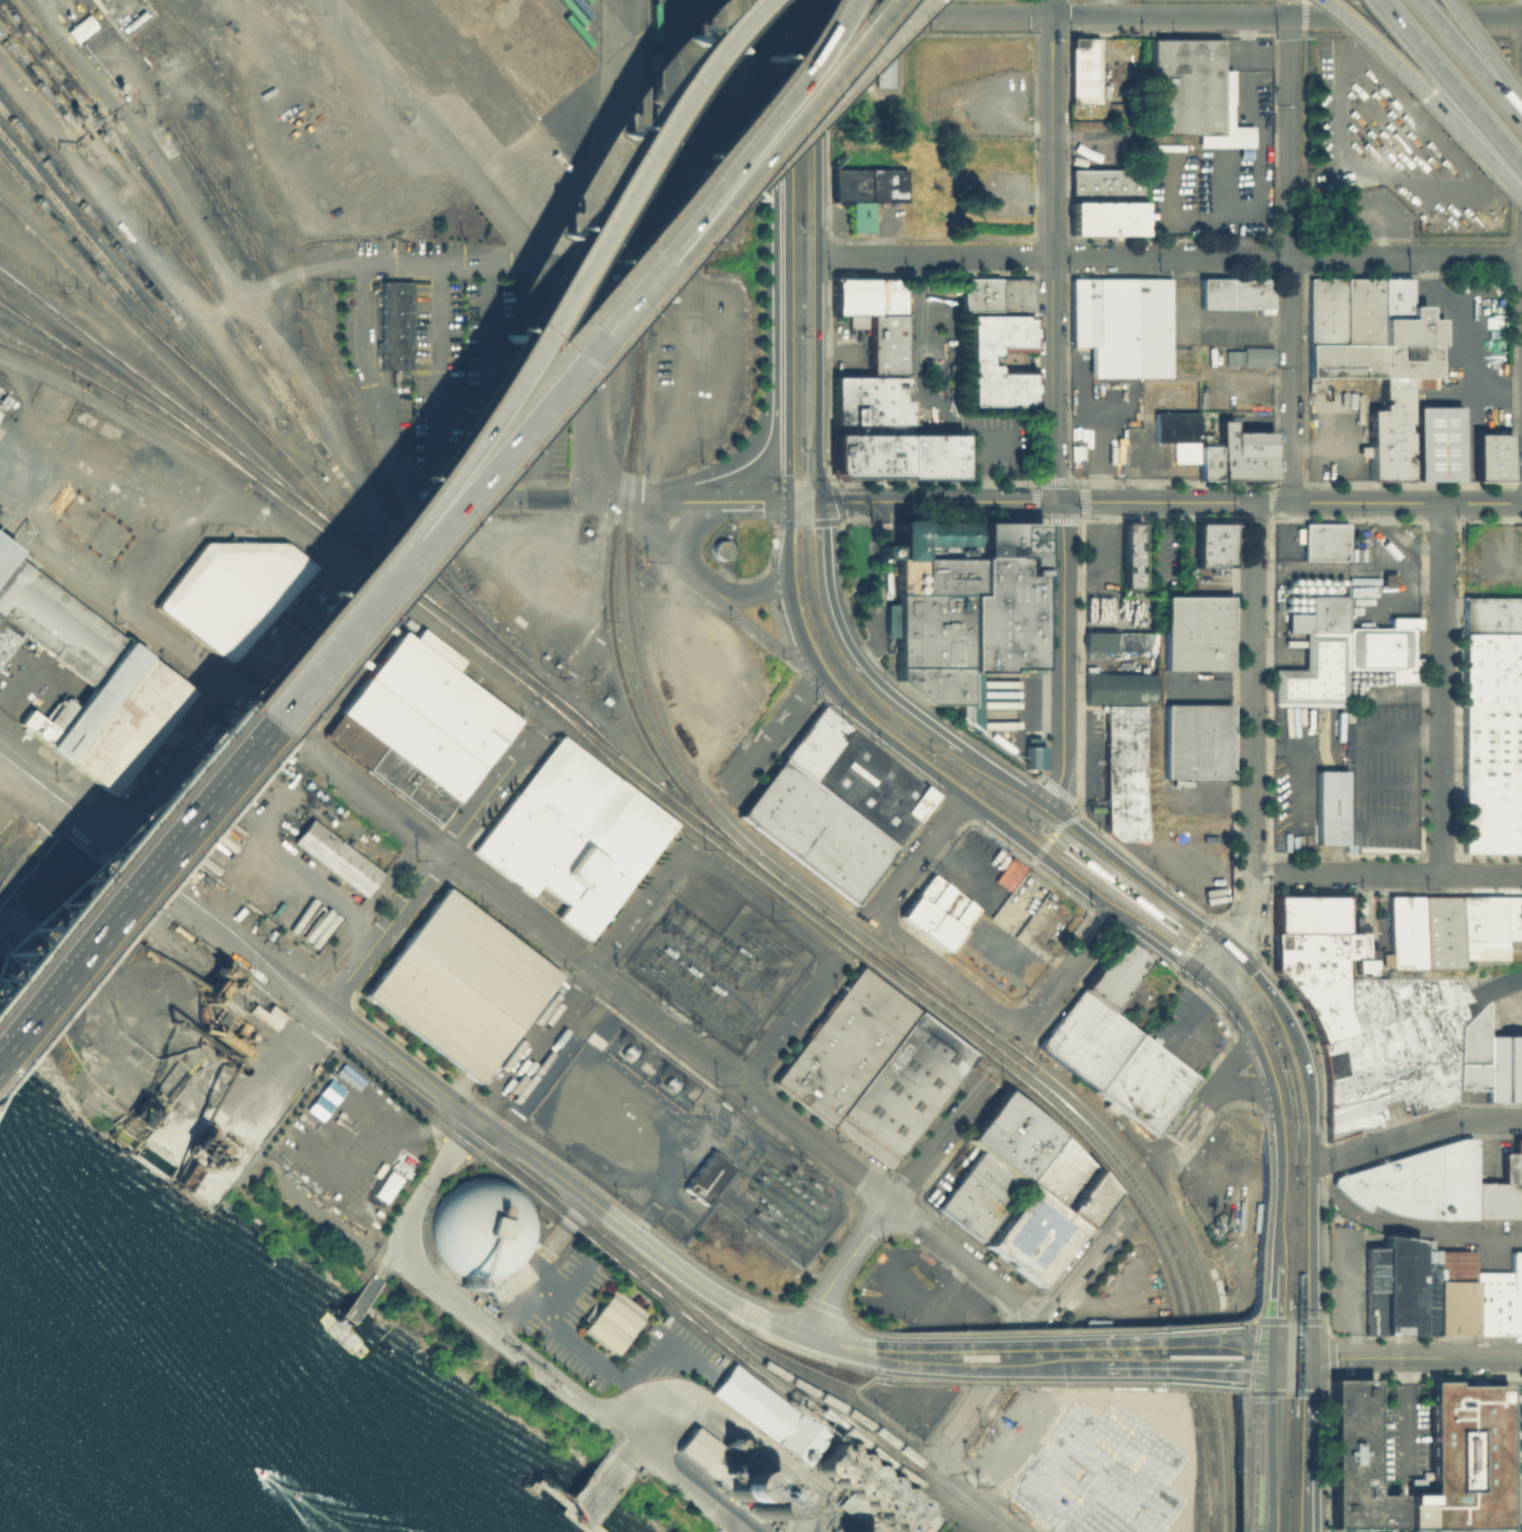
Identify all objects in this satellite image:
road: (1289, 7)
road: (1051, 8)
road: (1170, 15)
road: (883, 16)
road: (708, 17)
building: (79, 27)
road: (626, 27)
building: (1075, 41)
road: (1104, 43)
road: (676, 56)
road: (1481, 57)
building: (881, 69)
road: (787, 70)
road: (1463, 70)
building: (1084, 71)
road: (1446, 90)
road: (779, 92)
building: (1190, 92)
road: (1421, 99)
road: (791, 108)
road: (1011, 122)
road: (610, 124)
road: (432, 128)
road: (723, 140)
railway: (105, 141)
road: (142, 141)
road: (747, 142)
road: (779, 161)
parking lot: (1383, 165)
road: (1259, 171)
railway: (117, 182)
building: (865, 184)
building: (1106, 184)
road: (1012, 195)
road: (113, 208)
building: (860, 216)
building: (1106, 217)
road: (883, 232)
road: (1379, 234)
railway: (646, 235)
road: (817, 250)
railway: (132, 251)
road: (572, 251)
road: (1169, 257)
road: (1289, 258)
road: (475, 262)
railway: (110, 267)
road: (300, 269)
building: (1236, 292)
building: (979, 293)
building: (1017, 293)
building: (887, 294)
building: (851, 295)
building: (1392, 298)
building: (1324, 310)
building: (1360, 310)
railway: (136, 319)
road: (787, 321)
railway: (35, 323)
road: (360, 323)
building: (393, 324)
building: (1123, 324)
railway: (232, 326)
building: (1407, 328)
road: (1463, 336)
road: (511, 337)
building: (881, 341)
parking lot: (1474, 344)
railway: (311, 346)
road: (566, 350)
railway: (44, 352)
road: (771, 352)
building: (1245, 354)
building: (978, 359)
building: (1342, 359)
building: (1407, 359)
railway: (161, 362)
railway: (208, 362)
railway: (342, 380)
road: (589, 382)
railway: (128, 387)
railway: (171, 400)
building: (868, 404)
road: (1052, 413)
road: (1083, 418)
railway: (159, 419)
road: (143, 429)
road: (483, 430)
building: (1388, 431)
building: (1176, 433)
road: (387, 443)
building: (1436, 443)
building: (1241, 452)
building: (894, 455)
building: (1490, 455)
building: (1205, 461)
road: (502, 500)
road: (648, 500)
road: (747, 500)
traffic signals: (787, 501)
road: (803, 501)
traffic signals: (819, 501)
road: (1170, 501)
road: (787, 512)
road: (635, 527)
road: (181, 531)
railway: (625, 538)
road: (679, 539)
building: (1324, 540)
building: (1209, 545)
road: (786, 547)
building: (719, 548)
building: (868, 551)
building: (4, 552)
parking lot: (1103, 559)
building: (1129, 559)
road: (335, 565)
road: (686, 568)
road: (57, 571)
road: (556, 571)
road: (645, 581)
building: (231, 590)
road: (748, 593)
building: (964, 606)
road: (415, 615)
building: (1491, 615)
building: (52, 622)
road: (758, 631)
building: (1195, 632)
building: (1099, 640)
building: (1136, 641)
building: (440, 650)
railway: (479, 652)
railway: (614, 652)
building: (1341, 652)
road: (583, 667)
building: (1491, 670)
road: (346, 672)
road: (868, 677)
road: (15, 681)
road: (502, 682)
building: (1120, 686)
road: (1440, 689)
building: (95, 699)
railway: (561, 704)
building: (58, 712)
road: (543, 721)
building: (36, 725)
building: (128, 725)
building: (420, 725)
road: (1251, 727)
road: (279, 731)
road: (881, 734)
road: (772, 735)
building: (1197, 740)
building: (814, 741)
building: (1030, 752)
road: (209, 760)
road: (158, 761)
parking lot: (1303, 771)
building: (1125, 772)
building: (1491, 779)
building: (872, 786)
railway: (998, 792)
road: (176, 794)
railway: (982, 795)
road: (1043, 804)
building: (1336, 808)
building: (11, 825)
building: (815, 830)
building: (575, 834)
road: (1051, 836)
road: (262, 843)
railway: (1063, 845)
building: (338, 856)
road: (918, 856)
road: (434, 864)
road: (210, 866)
road: (1135, 875)
road: (1386, 875)
road: (1076, 883)
building: (927, 888)
road: (1122, 889)
road: (160, 890)
railway: (173, 893)
building: (944, 901)
road: (762, 902)
road: (636, 910)
road: (515, 913)
building: (916, 913)
road: (353, 914)
building: (962, 914)
road: (363, 928)
railway: (1177, 929)
building: (1450, 929)
building: (939, 932)
road: (1147, 934)
road: (1215, 937)
road: (1192, 943)
traffic signals: (1227, 946)
road: (1213, 960)
power substation: (721, 969)
road: (1068, 970)
railway: (906, 971)
road: (946, 974)
building: (1114, 974)
traffic signals: (1201, 975)
building: (1320, 978)
building: (460, 985)
railway: (932, 999)
building: (266, 1014)
road: (787, 1025)
railway: (993, 1033)
building: (1472, 1036)
road: (534, 1044)
railway: (979, 1048)
building: (1115, 1061)
road: (426, 1062)
road: (1228, 1063)
building: (1504, 1066)
building: (874, 1067)
road: (1267, 1075)
building: (1469, 1075)
road: (1250, 1078)
road: (1243, 1087)
road: (465, 1108)
road: (1490, 1120)
road: (1183, 1132)
road: (1140, 1138)
road: (1310, 1138)
road: (937, 1141)
road: (1384, 1141)
power substation: (677, 1144)
road: (815, 1144)
road: (1265, 1161)
building: (1512, 1162)
railway: (1120, 1165)
road: (1168, 1165)
building: (708, 1176)
building: (1417, 1181)
building: (1023, 1189)
building: (1498, 1199)
building: (479, 1227)
road: (1411, 1228)
building: (1480, 1259)
road: (842, 1265)
road: (681, 1271)
building: (1400, 1288)
railway: (672, 1290)
building: (1453, 1292)
building: (1515, 1294)
railway: (658, 1295)
road: (1275, 1296)
road: (989, 1298)
building: (1490, 1302)
road: (453, 1303)
road: (823, 1304)
road: (1254, 1314)
road: (1255, 1317)
building: (611, 1320)
road: (764, 1320)
road: (1255, 1323)
railway: (703, 1324)
road: (785, 1328)
road: (1056, 1328)
road: (1028, 1336)
traffic signals: (1272, 1340)
road: (1186, 1341)
road: (571, 1342)
road: (1277, 1342)
road: (836, 1344)
road: (1259, 1352)
road: (813, 1355)
road: (1001, 1356)
traffic signals: (1312, 1357)
road: (1417, 1357)
railway: (1210, 1364)
road: (1276, 1367)
road: (1186, 1368)
traffic signals: (1267, 1370)
road: (896, 1380)
road: (1053, 1380)
road: (1259, 1392)
road: (1245, 1393)
road: (854, 1394)
road: (844, 1395)
building: (769, 1413)
road: (1410, 1415)
road: (1260, 1440)
road: (759, 1441)
road: (1311, 1444)
railway: (868, 1445)
road: (1240, 1445)
building: (700, 1452)
building: (1356, 1458)
building: (1464, 1459)
road: (1246, 1463)
railway: (1207, 1467)
building: (1100, 1473)
building: (744, 1480)
road: (691, 1487)
river: (38, 1490)
building: (863, 1491)
pier: (586, 1493)
road: (977, 1498)
road: (803, 1501)
railway: (1202, 1507)
road: (1240, 1520)
road: (1258, 1522)
road: (1260, 1522)
pier: (715, 1531)

